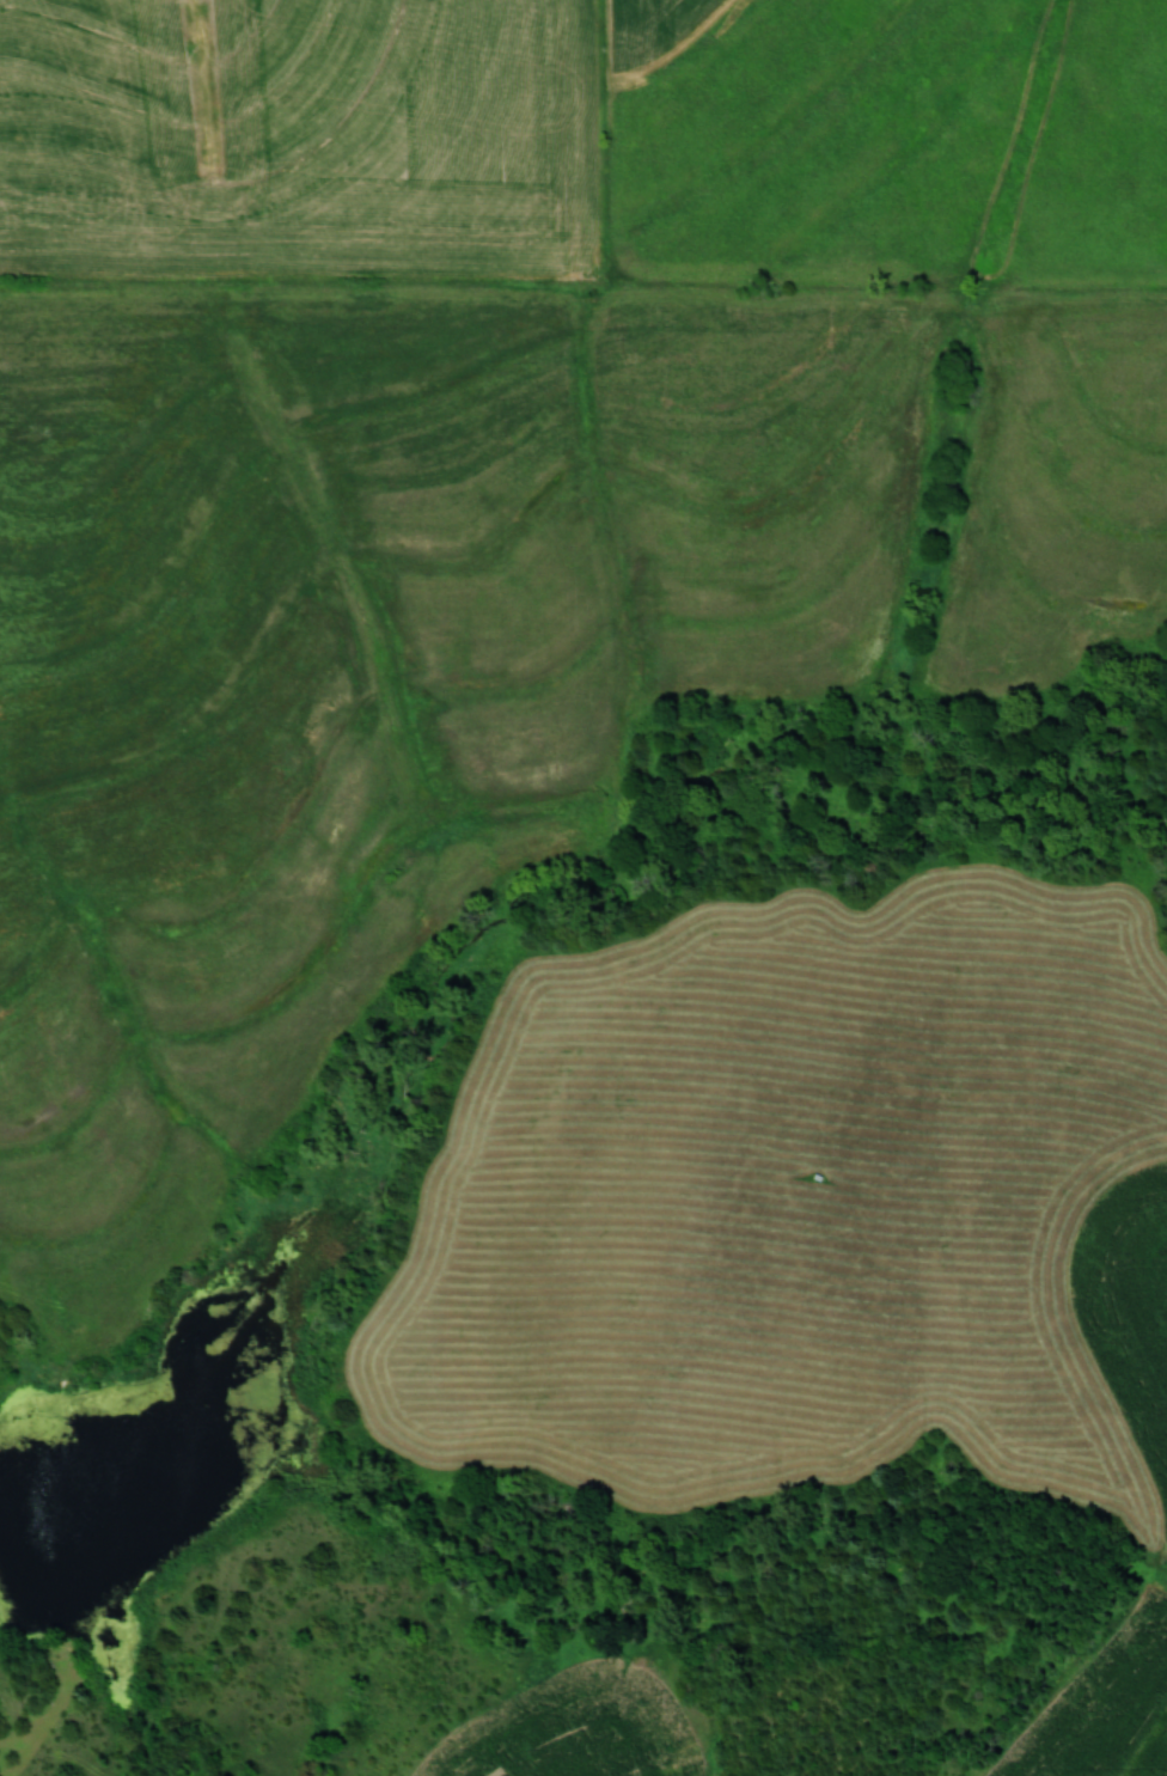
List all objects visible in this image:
dam: (1, 1622)

